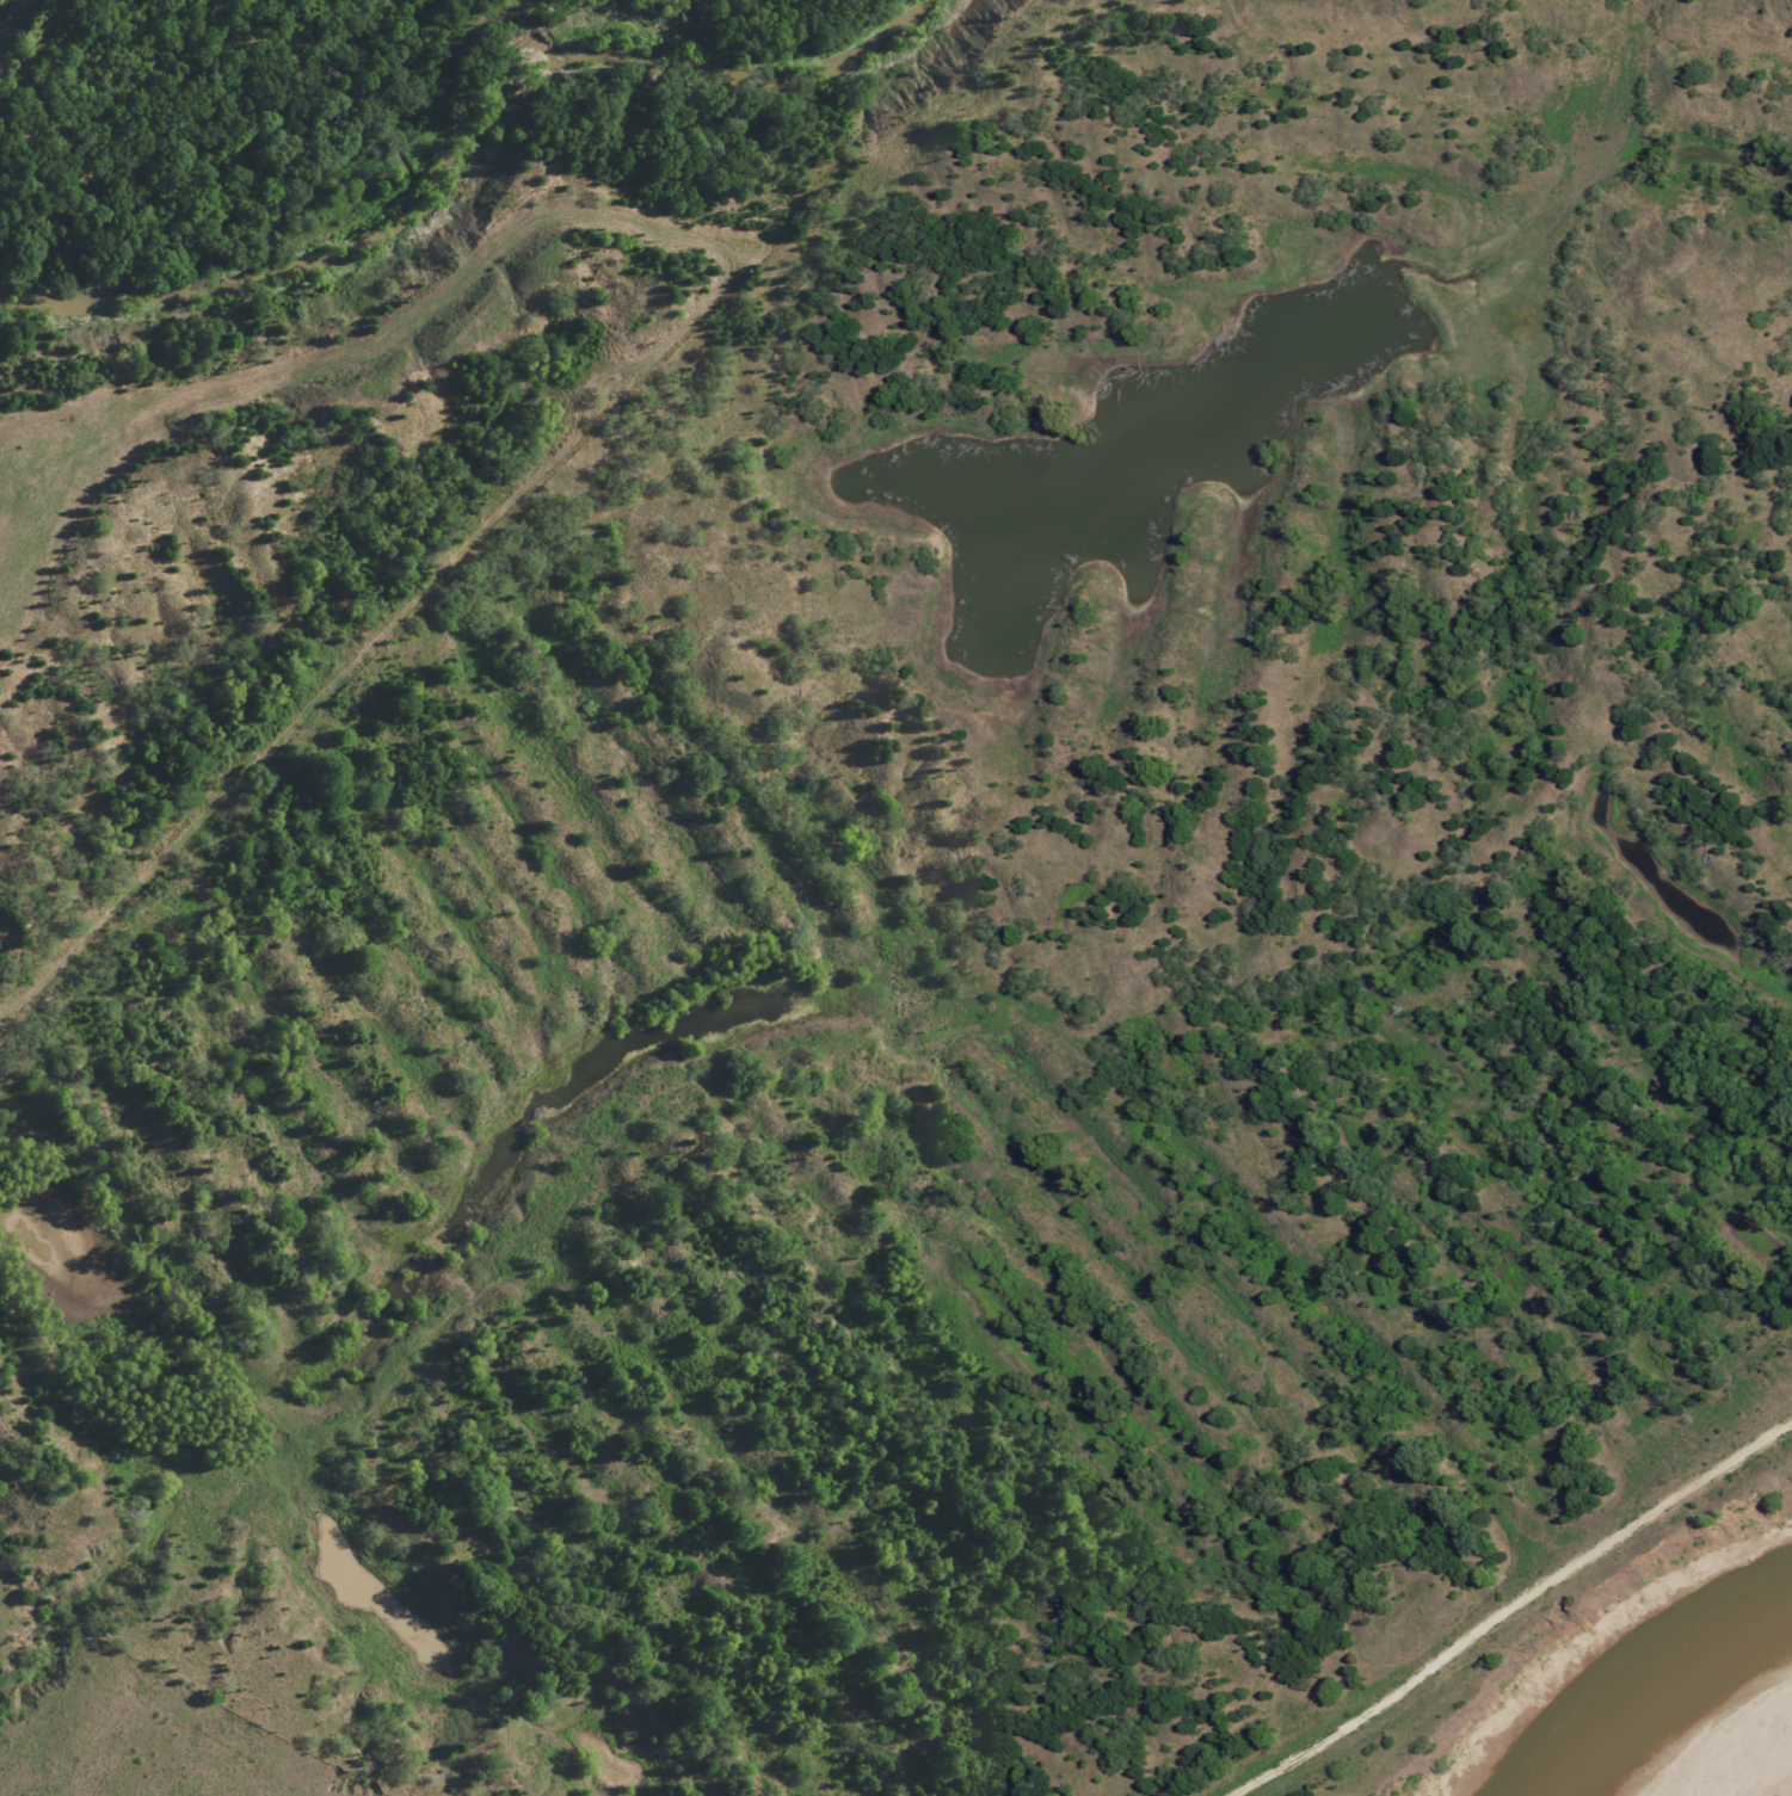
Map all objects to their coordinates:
river: (1695, 1732)

